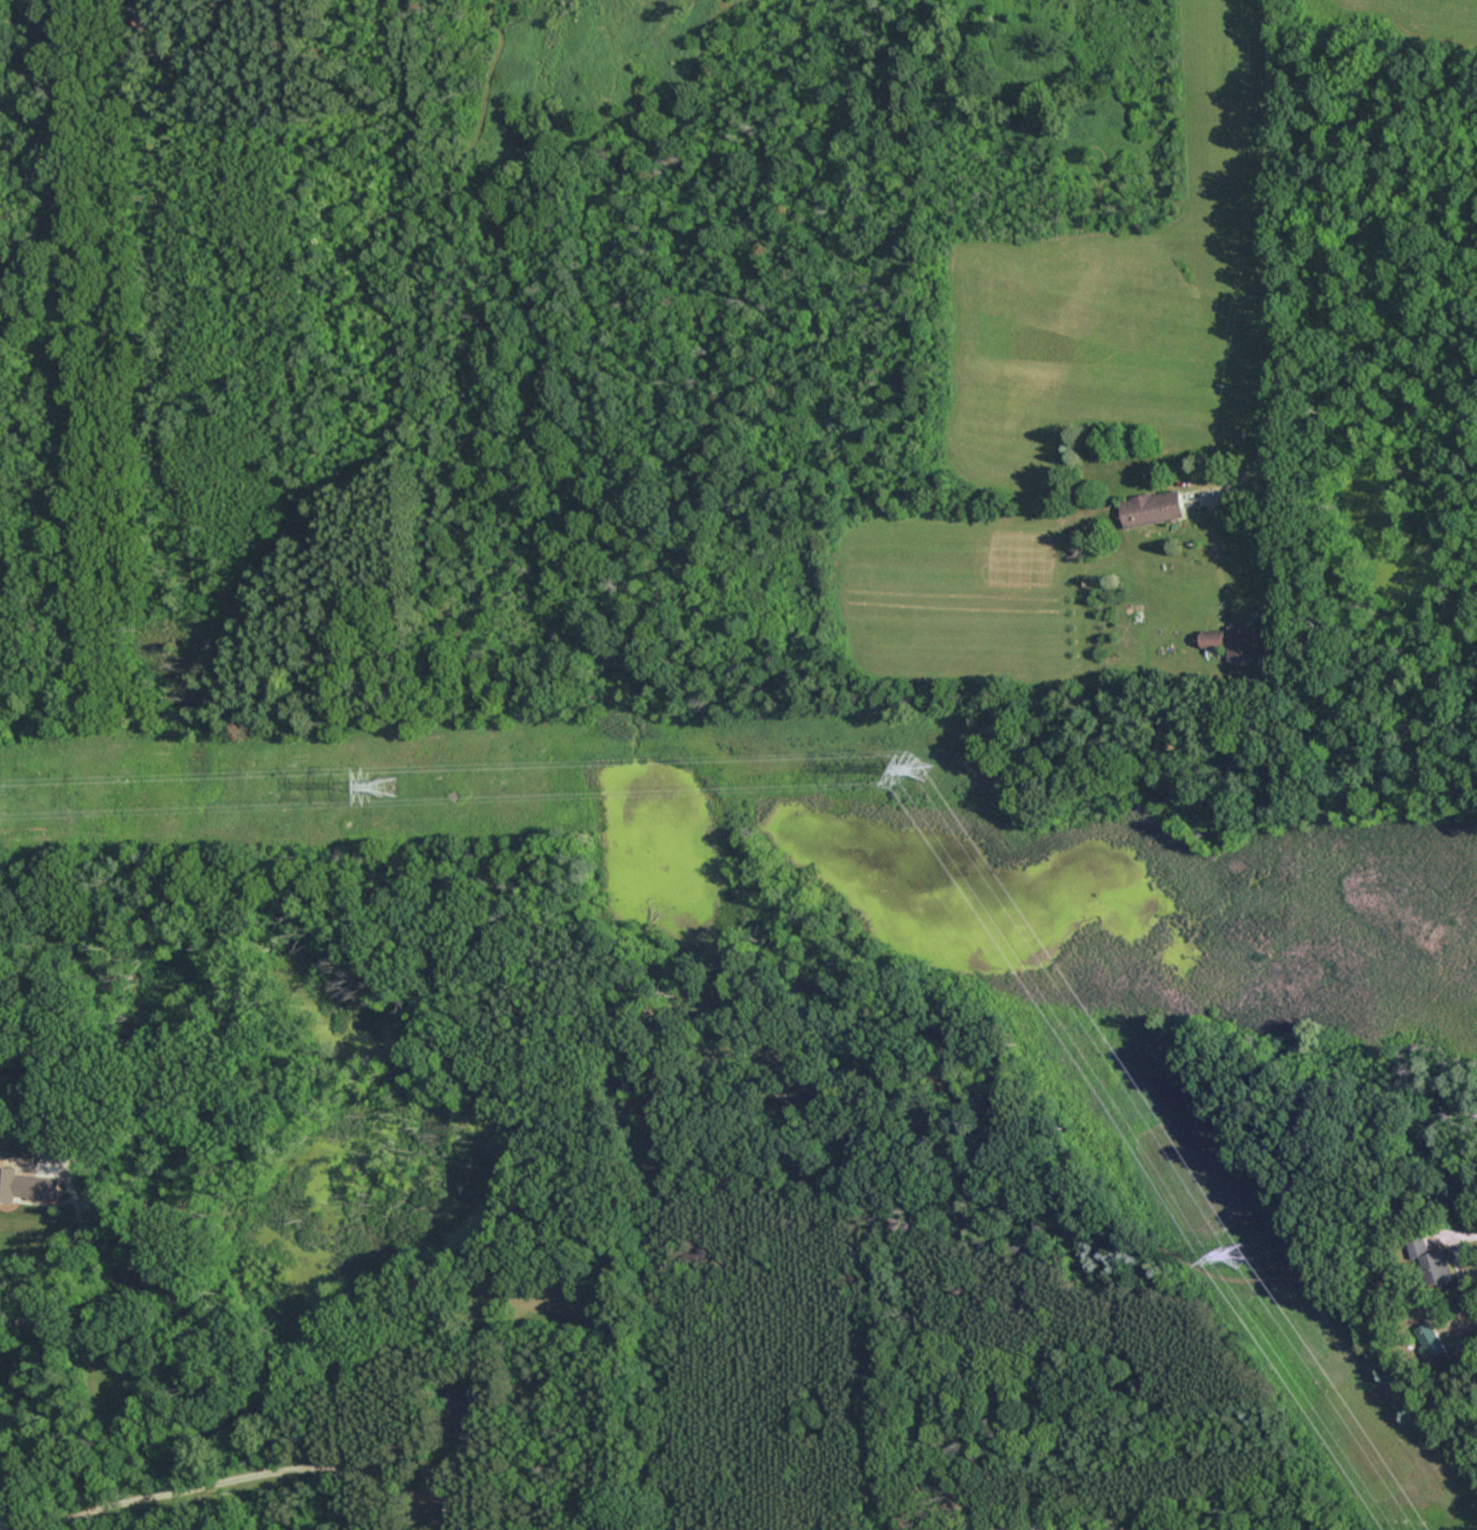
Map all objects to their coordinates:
road: (1263, 254)
building: (1151, 508)
building: (1211, 640)
building: (1239, 642)
power tower: (920, 764)
power tower: (387, 786)
building: (26, 1185)
road: (1473, 1235)
power tower: (1237, 1257)
building: (1428, 1258)
road: (76, 1262)
building: (1430, 1344)
building: (469, 1407)
road: (256, 1473)
building: (984, 1528)

